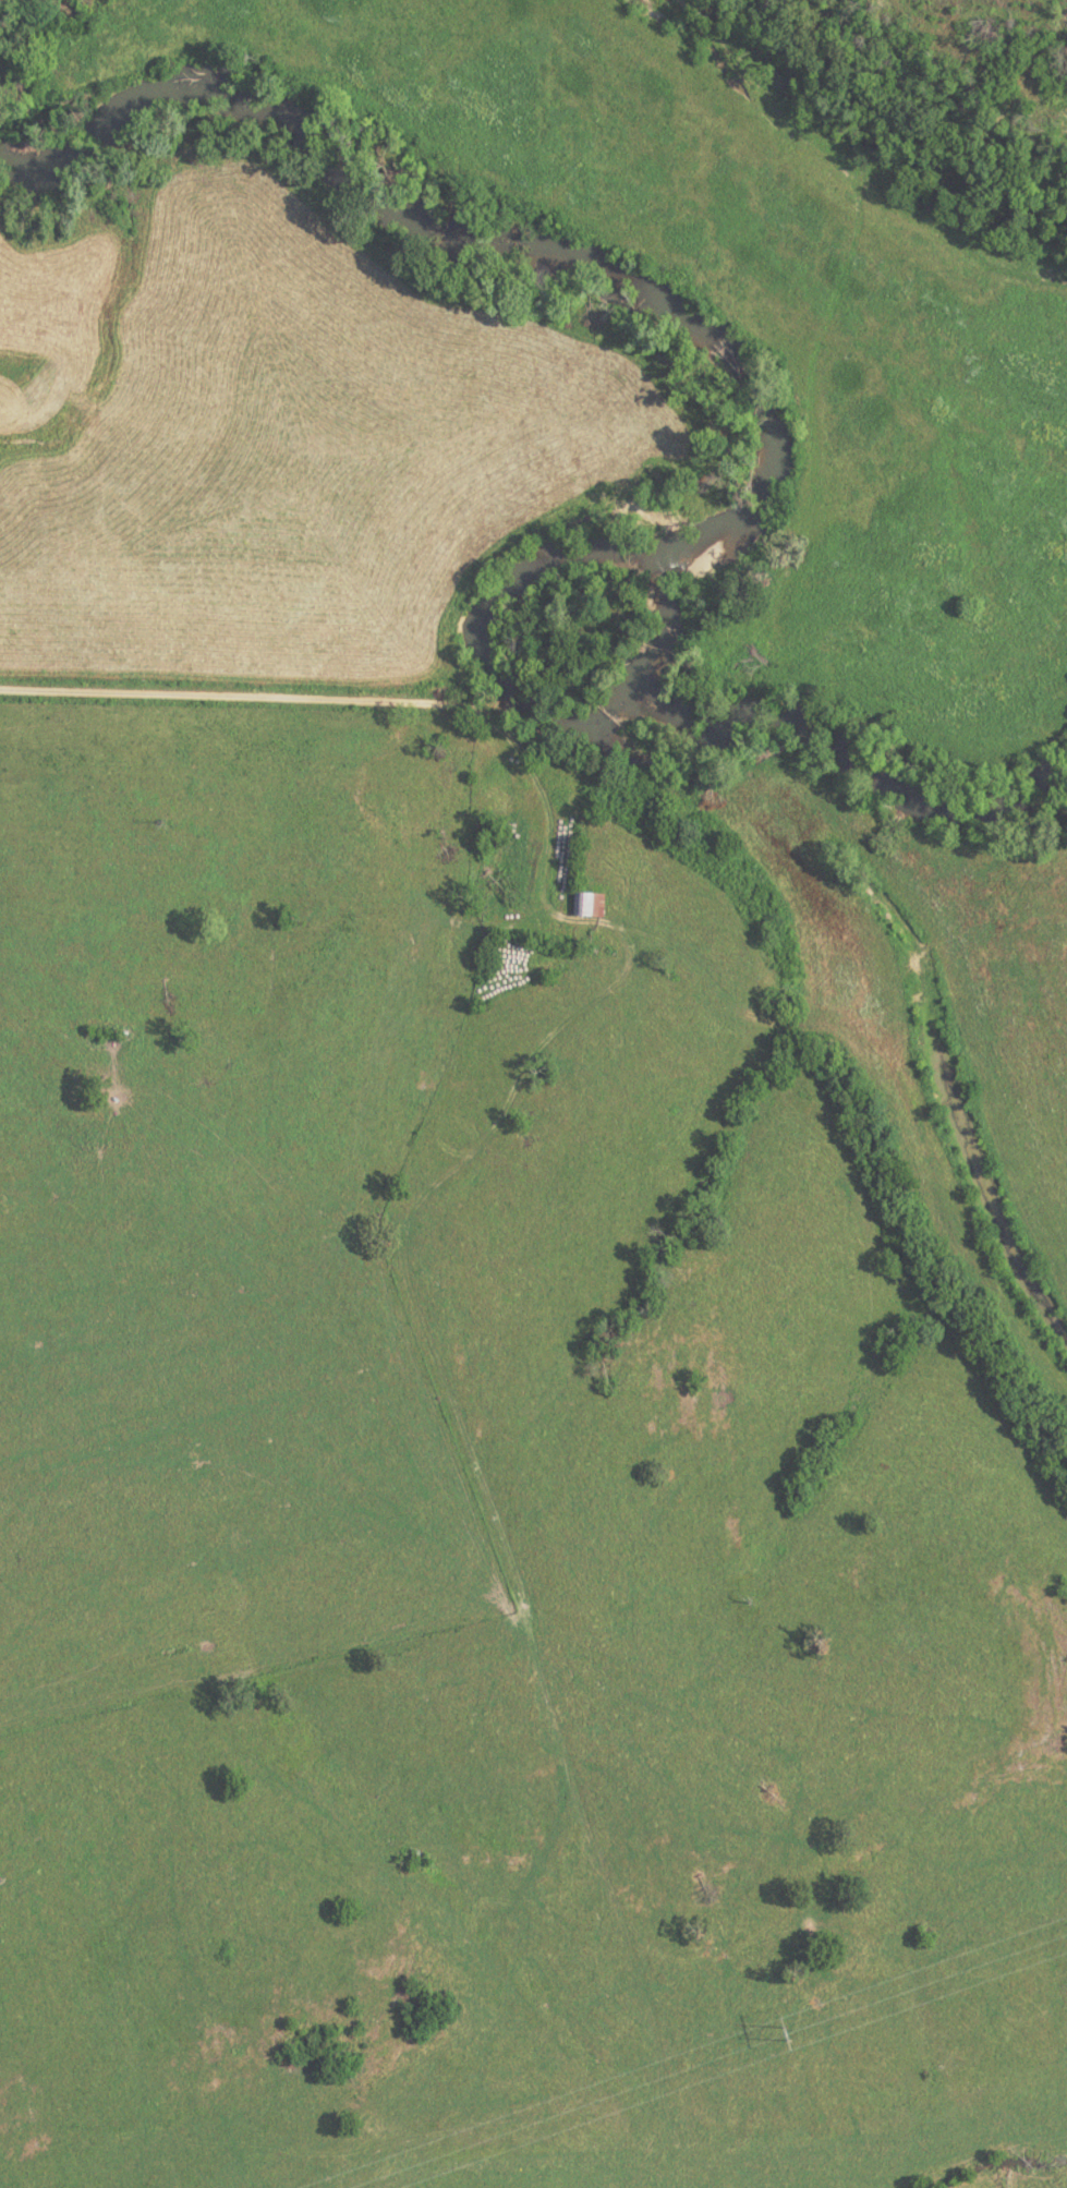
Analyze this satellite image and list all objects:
river: (710, 463)
road: (362, 698)
building: (584, 904)
power tower: (784, 2034)

